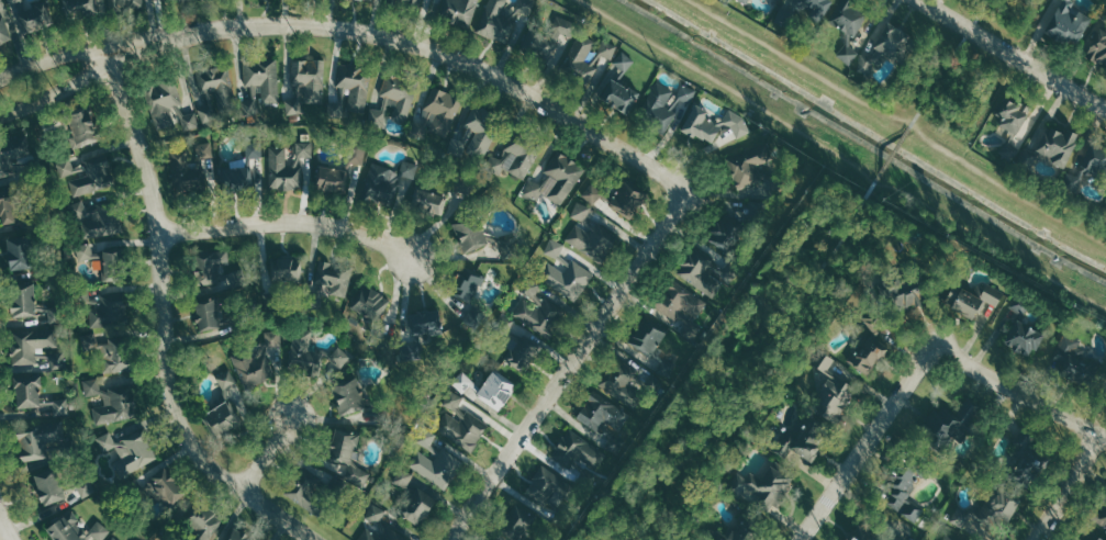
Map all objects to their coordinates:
building: (0, 0)
building: (373, 0)
building: (410, 1)
building: (745, 1)
building: (125, 3)
building: (814, 5)
building: (82, 7)
building: (460, 10)
building: (32, 14)
building: (850, 19)
building: (499, 22)
building: (1069, 23)
building: (4, 33)
building: (550, 38)
building: (894, 43)
road: (416, 44)
building: (1098, 47)
building: (848, 52)
road: (1014, 54)
building: (589, 56)
road: (55, 60)
road: (947, 61)
building: (864, 65)
building: (261, 82)
building: (306, 86)
building: (621, 86)
road: (59, 89)
building: (353, 90)
building: (686, 93)
building: (394, 100)
building: (659, 106)
building: (170, 110)
building: (442, 112)
building: (1012, 117)
road: (900, 120)
building: (713, 124)
building: (81, 126)
building: (476, 139)
building: (1057, 144)
road: (896, 147)
building: (255, 150)
building: (358, 153)
building: (13, 154)
road: (840, 155)
building: (515, 159)
building: (65, 167)
building: (292, 167)
building: (1088, 167)
building: (190, 169)
building: (751, 170)
building: (99, 173)
building: (236, 178)
building: (333, 179)
building: (557, 179)
building: (391, 181)
building: (593, 192)
building: (628, 196)
building: (431, 202)
building: (8, 210)
building: (582, 212)
building: (96, 221)
road: (288, 222)
building: (727, 232)
building: (470, 235)
building: (593, 239)
building: (555, 248)
building: (19, 251)
building: (102, 257)
building: (288, 269)
building: (701, 271)
building: (214, 272)
building: (568, 278)
building: (335, 280)
building: (467, 283)
building: (904, 294)
building: (992, 294)
building: (22, 300)
building: (963, 300)
building: (680, 302)
building: (538, 310)
building: (110, 311)
building: (206, 314)
building: (505, 324)
road: (167, 325)
building: (426, 325)
building: (1019, 333)
building: (648, 339)
building: (31, 344)
building: (302, 347)
building: (111, 352)
building: (523, 353)
building: (868, 355)
road: (755, 356)
building: (260, 360)
building: (334, 361)
road: (566, 371)
building: (463, 382)
building: (618, 383)
building: (92, 386)
building: (496, 389)
building: (1105, 389)
building: (26, 390)
building: (830, 392)
road: (1021, 392)
building: (348, 397)
building: (454, 403)
building: (116, 405)
building: (226, 405)
building: (62, 406)
building: (603, 413)
building: (953, 424)
building: (463, 428)
building: (427, 436)
building: (41, 440)
road: (865, 445)
building: (342, 448)
building: (130, 450)
building: (580, 452)
road: (273, 455)
building: (1027, 462)
building: (438, 465)
building: (358, 474)
building: (403, 477)
building: (47, 485)
building: (549, 486)
road: (1066, 486)
building: (87, 487)
building: (165, 488)
building: (762, 488)
building: (904, 496)
building: (417, 506)
building: (376, 514)
building: (990, 514)
building: (1101, 515)
building: (520, 524)
building: (203, 525)
road: (3, 527)
building: (76, 529)
building: (383, 533)
building: (874, 533)
building: (235, 535)
building: (1091, 537)
building: (118, 539)
building: (947, 539)

